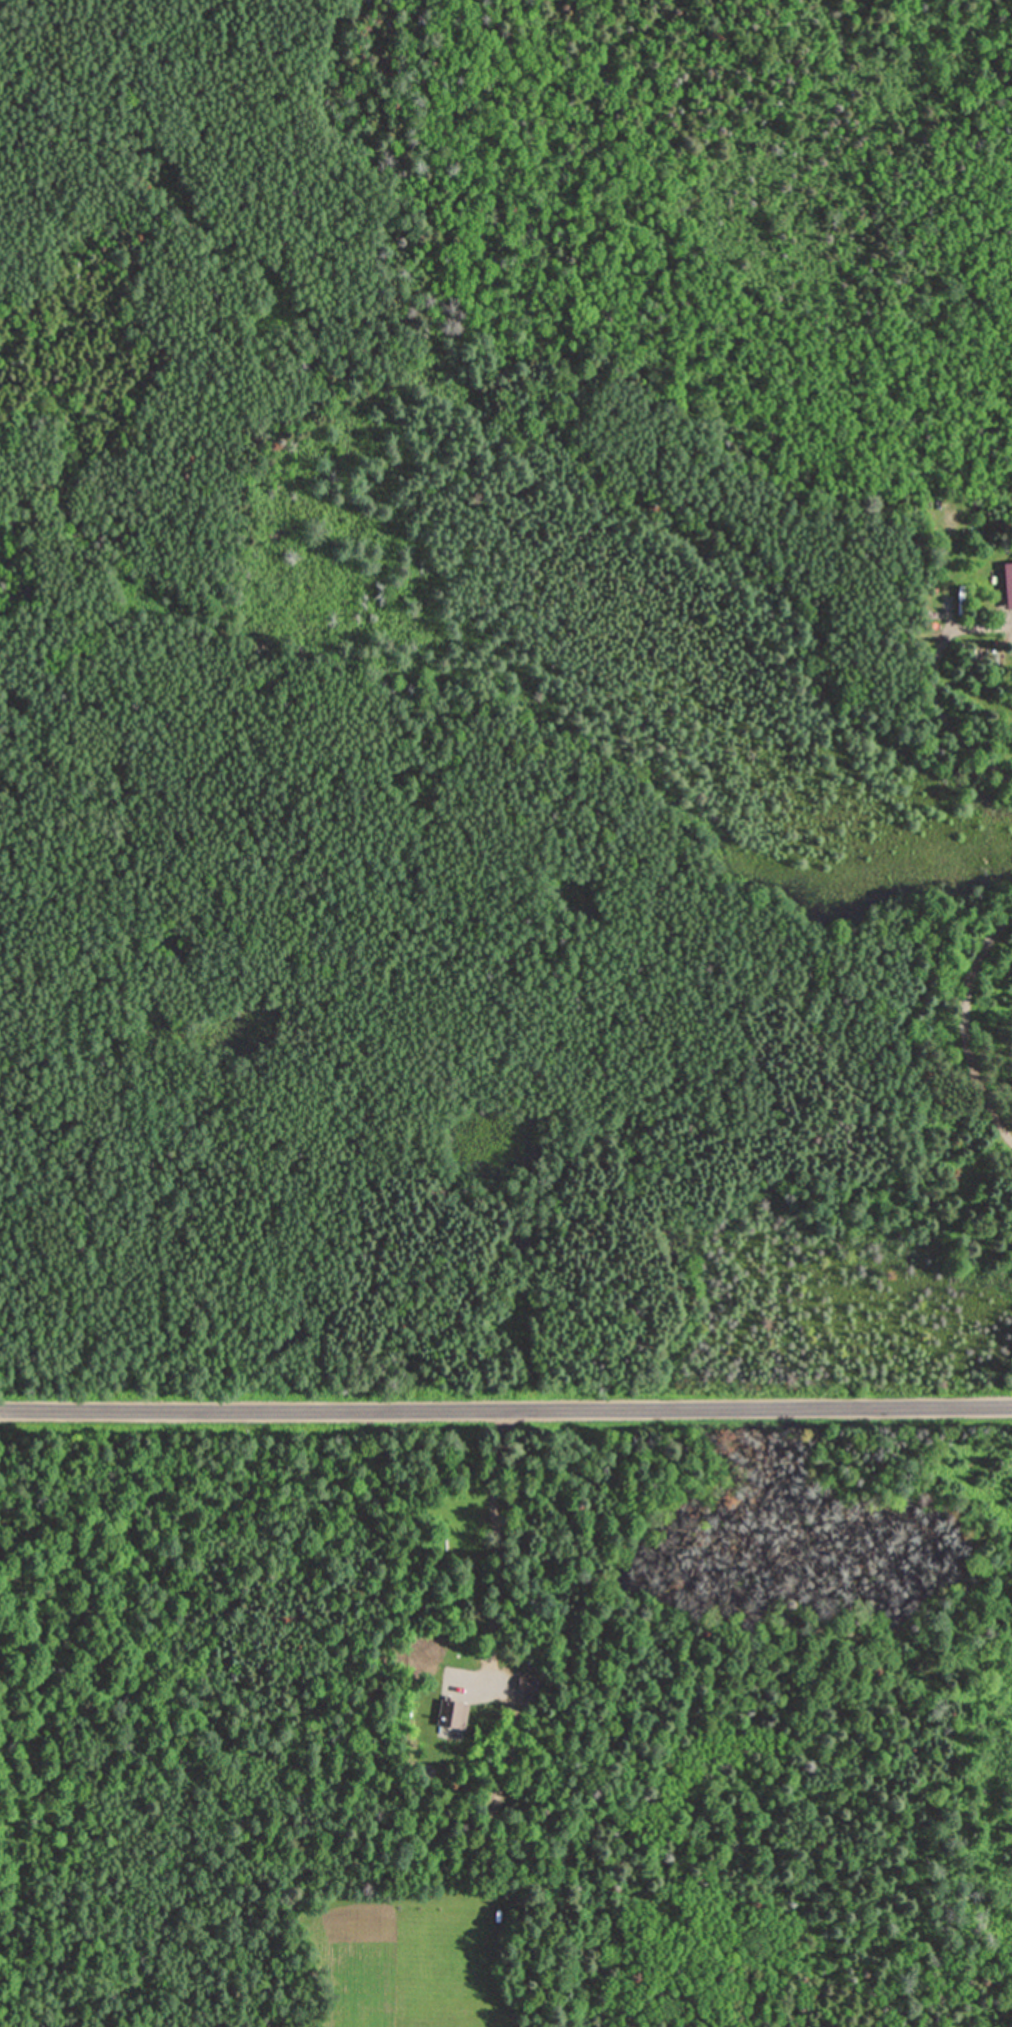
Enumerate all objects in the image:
building: (1008, 583)
road: (963, 1037)
road: (506, 1411)
road: (492, 1536)
building: (525, 1681)

